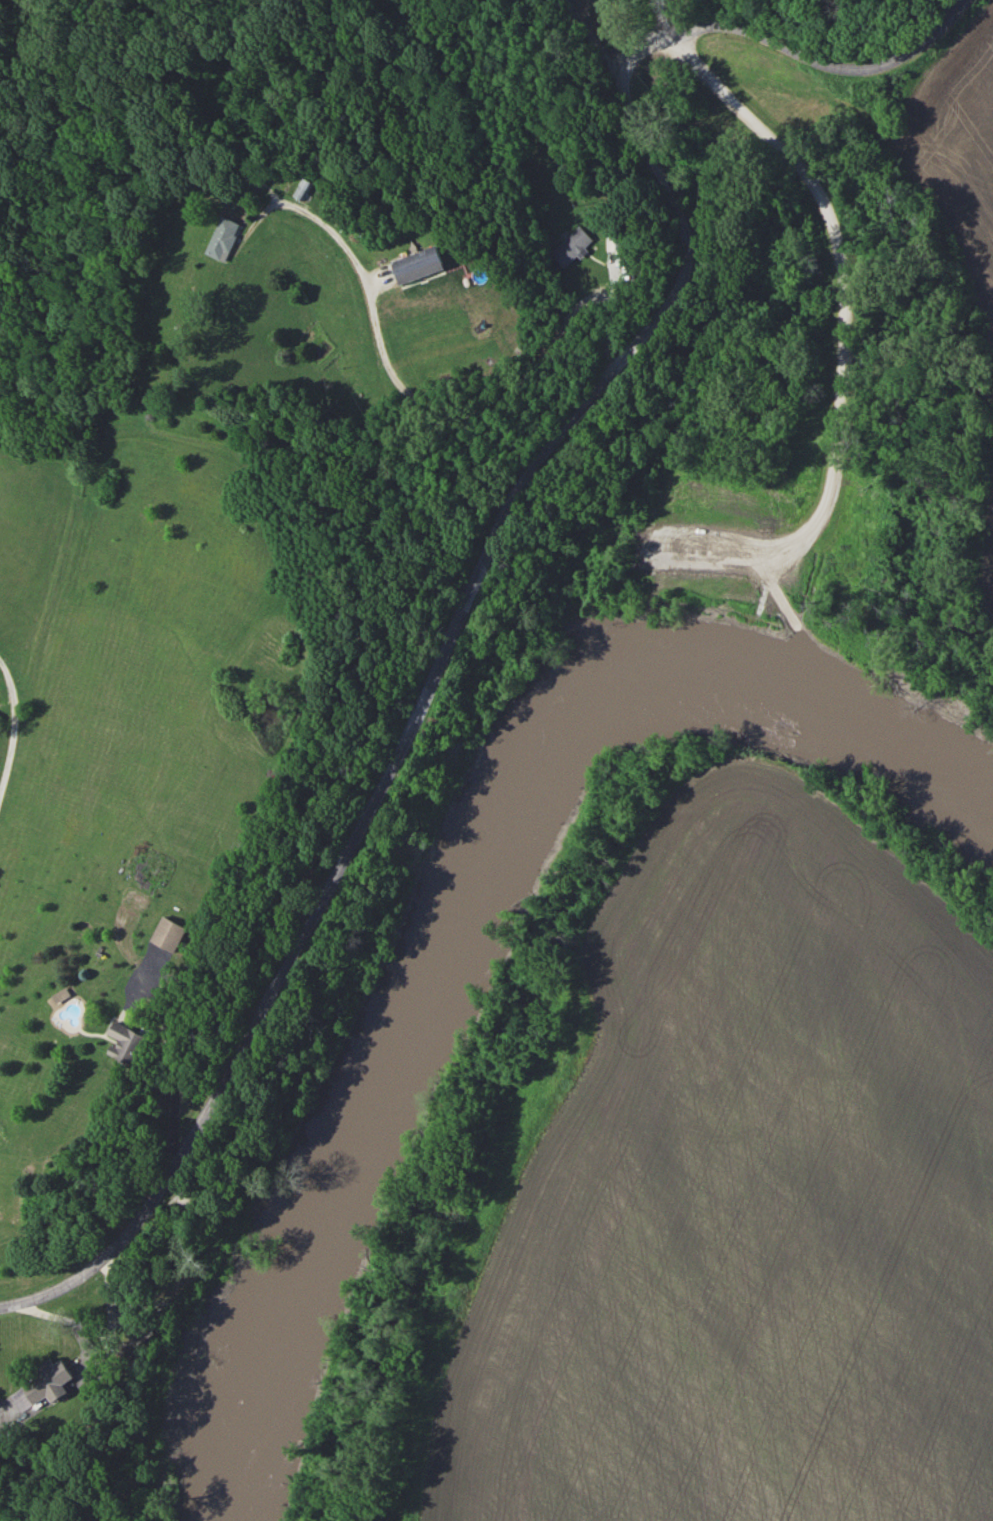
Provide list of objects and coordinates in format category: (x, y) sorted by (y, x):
road: (665, 21)
road: (593, 39)
building: (303, 188)
building: (223, 239)
building: (571, 246)
building: (417, 265)
road: (843, 343)
road: (446, 413)
road: (499, 540)
road: (794, 623)
road: (8, 724)
river: (468, 889)
building: (167, 934)
building: (125, 1044)
road: (172, 1070)
building: (47, 1382)
road: (12, 1408)

